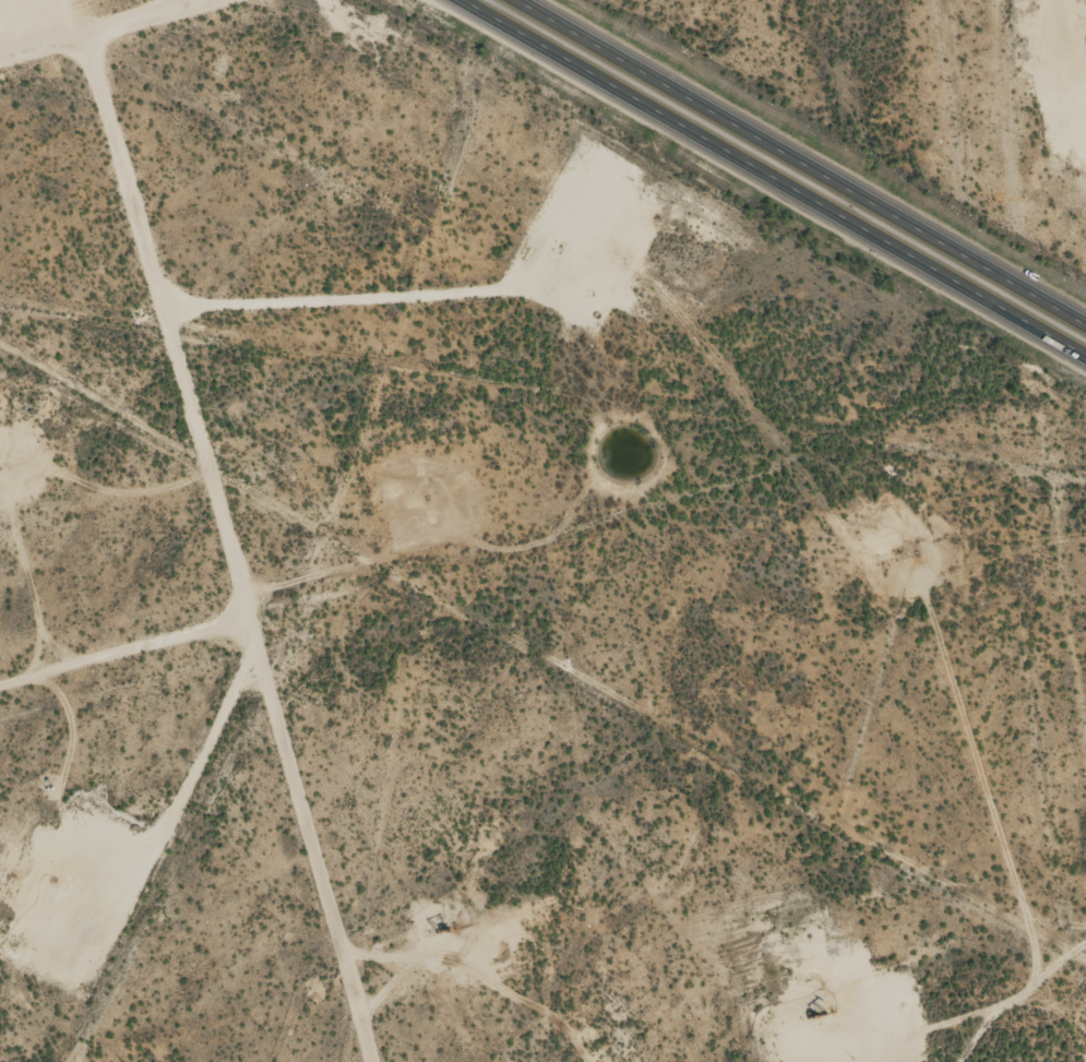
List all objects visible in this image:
road: (100, 29)
road: (799, 163)
road: (771, 179)
road: (229, 548)

